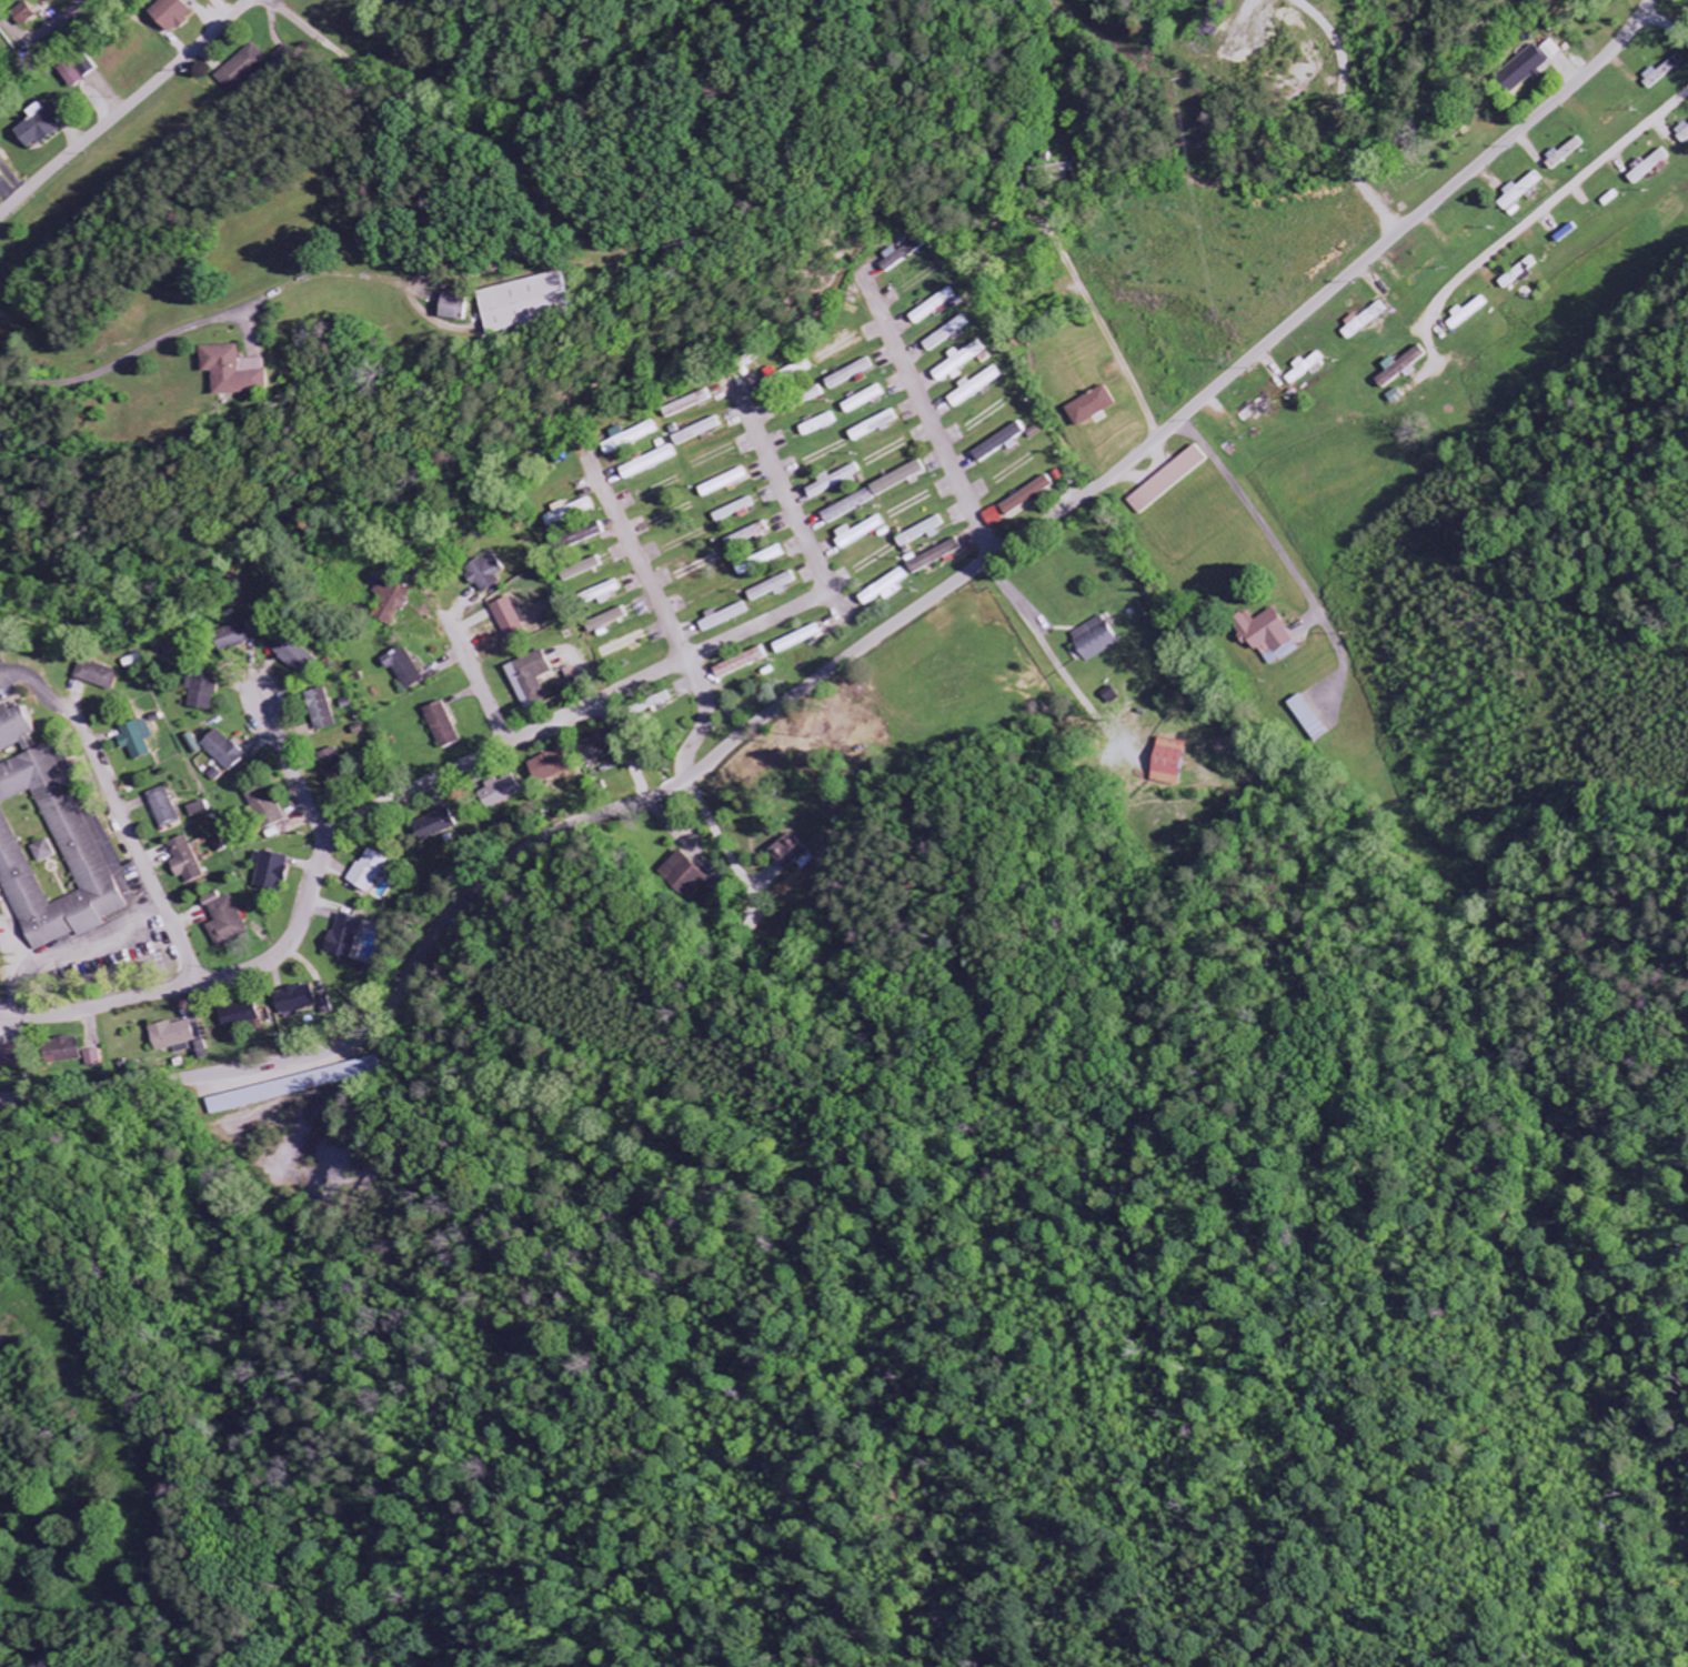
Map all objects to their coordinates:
building: (52, 1)
building: (169, 14)
building: (23, 16)
road: (1665, 23)
road: (41, 32)
building: (1527, 67)
building: (86, 68)
building: (241, 70)
building: (70, 76)
road: (124, 108)
building: (38, 127)
building: (1681, 133)
road: (1327, 144)
building: (1648, 167)
building: (0, 178)
building: (1515, 195)
road: (1563, 195)
road: (1222, 260)
building: (1515, 273)
building: (518, 303)
building: (931, 307)
building: (452, 309)
building: (1463, 314)
building: (1358, 322)
building: (944, 334)
building: (837, 349)
building: (957, 363)
building: (1302, 370)
building: (233, 372)
building: (848, 374)
building: (973, 388)
building: (813, 394)
building: (862, 401)
building: (686, 404)
building: (1088, 406)
building: (815, 425)
building: (871, 428)
road: (935, 429)
building: (694, 432)
road: (1195, 436)
building: (630, 438)
building: (996, 442)
building: (646, 463)
building: (840, 478)
building: (721, 483)
road: (784, 490)
building: (1016, 502)
building: (567, 511)
building: (732, 512)
building: (921, 532)
building: (856, 533)
building: (766, 558)
building: (580, 571)
building: (484, 573)
building: (768, 588)
building: (881, 590)
building: (394, 593)
road: (664, 614)
building: (509, 617)
building: (719, 619)
building: (604, 621)
building: (247, 634)
building: (1265, 637)
building: (1092, 640)
building: (620, 646)
road: (864, 646)
building: (299, 655)
building: (403, 670)
building: (101, 675)
building: (531, 680)
road: (479, 684)
building: (208, 691)
building: (325, 707)
building: (441, 726)
building: (144, 740)
building: (600, 745)
building: (229, 751)
building: (1166, 762)
road: (292, 765)
building: (550, 767)
building: (344, 775)
building: (501, 792)
building: (267, 800)
road: (391, 801)
building: (171, 807)
building: (205, 809)
building: (446, 823)
building: (52, 840)
road: (138, 845)
building: (787, 853)
building: (192, 862)
building: (374, 871)
building: (279, 872)
building: (232, 921)
building: (350, 936)
road: (69, 946)
building: (307, 1002)
building: (247, 1015)
building: (179, 1035)
building: (70, 1051)
building: (202, 1052)
building: (13, 1058)
building: (96, 1058)

